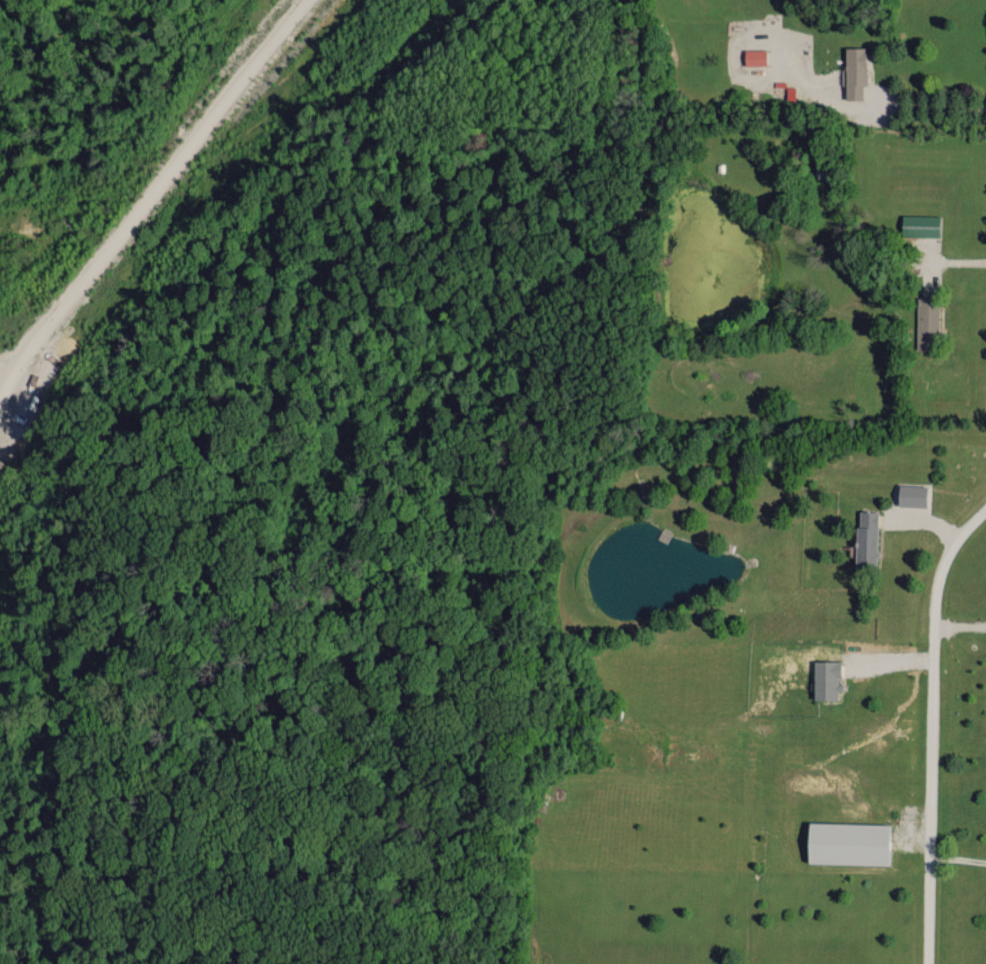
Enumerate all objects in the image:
building: (754, 56)
building: (854, 71)
road: (920, 107)
building: (919, 224)
building: (926, 322)
building: (911, 494)
building: (866, 536)
building: (825, 679)
road: (933, 728)
building: (846, 842)
road: (959, 858)

